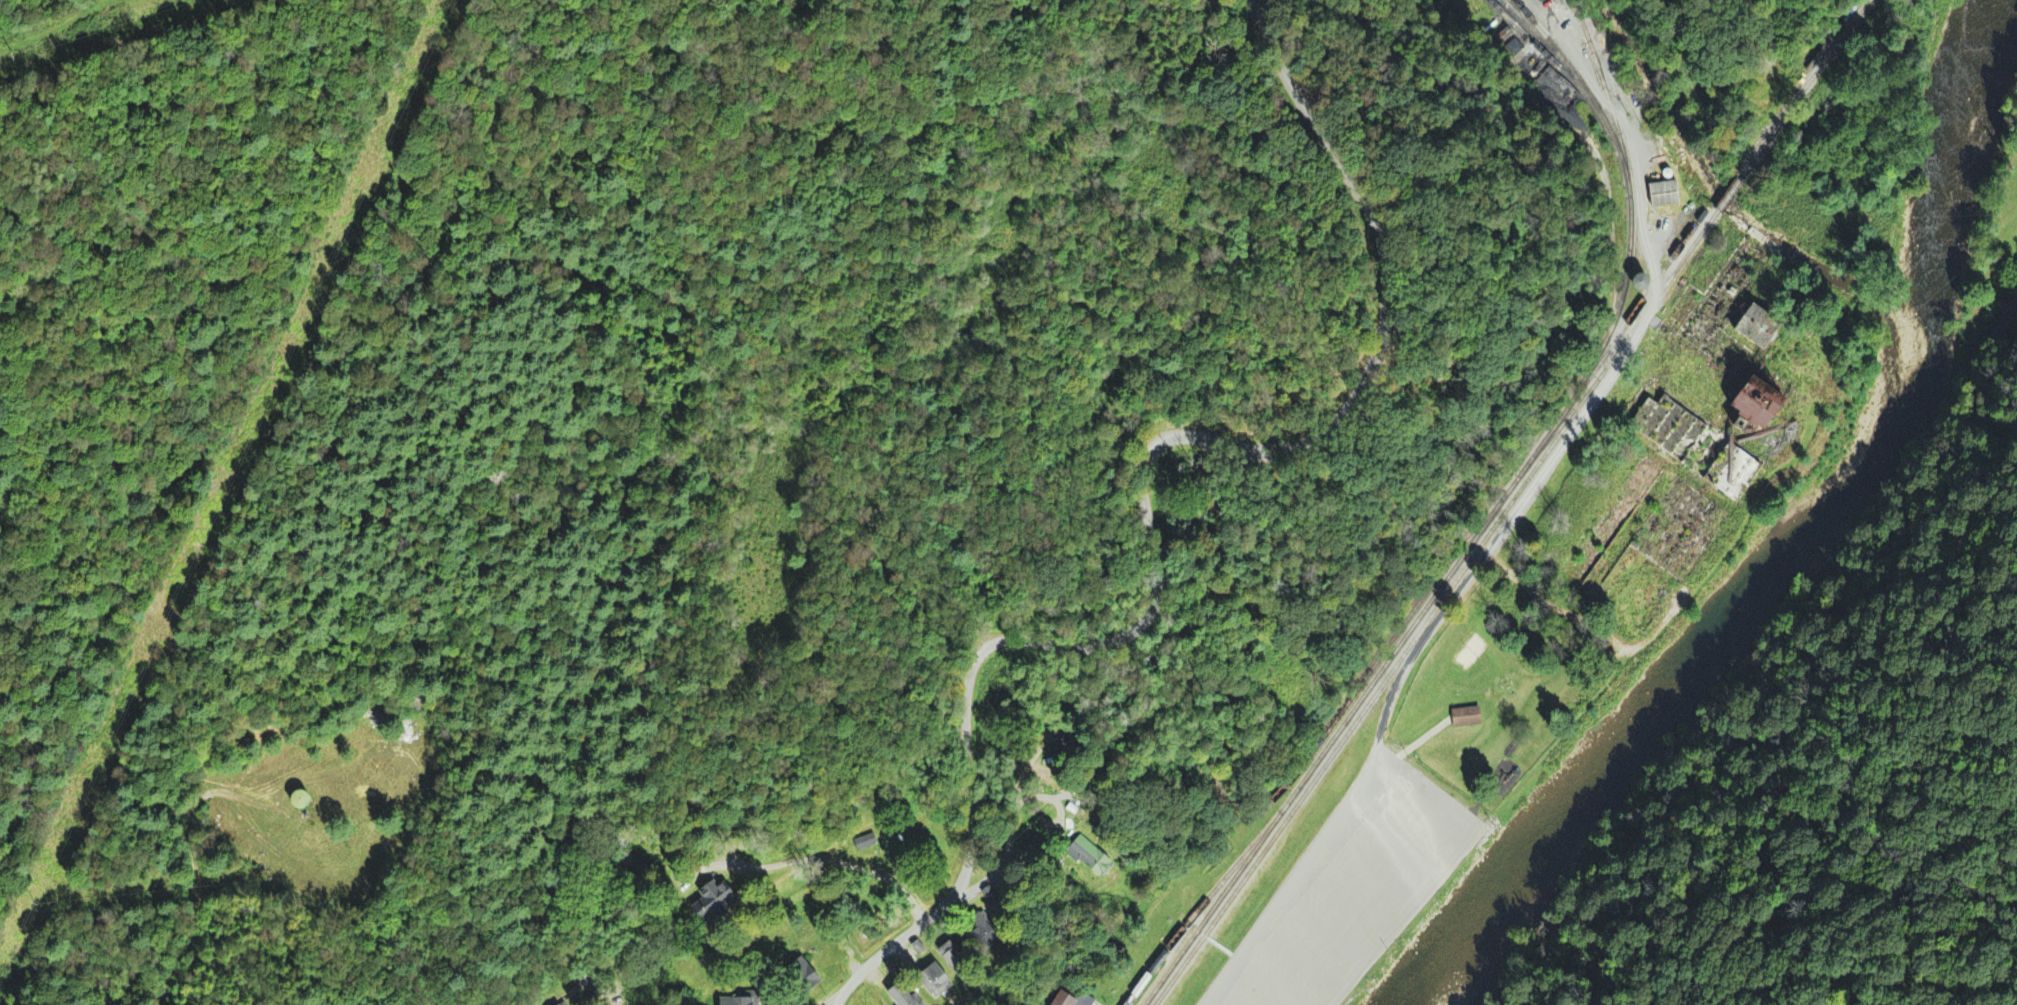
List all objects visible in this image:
railway: (1516, 8)
railway: (1583, 26)
railway: (1588, 53)
railway: (1549, 58)
railway: (1583, 86)
railway: (1805, 88)
railway: (1629, 175)
building: (1663, 193)
railway: (1729, 194)
railway: (1645, 296)
building: (1764, 328)
road: (2002, 388)
road: (1598, 392)
building: (1761, 403)
railway: (1550, 440)
building: (1700, 450)
road: (1140, 488)
river: (1799, 543)
park: (1103, 571)
railway: (1437, 607)
road: (1668, 620)
railway: (1368, 690)
road: (1735, 691)
building: (1468, 717)
railway: (1305, 761)
road: (1418, 799)
building: (303, 801)
road: (1393, 837)
building: (867, 840)
building: (1094, 856)
road: (817, 862)
road: (1369, 869)
road: (1291, 885)
parking lot: (1363, 892)
building: (994, 894)
road: (1347, 897)
building: (720, 898)
railway: (1193, 917)
road: (1394, 921)
railway: (1196, 923)
road: (1324, 928)
building: (989, 932)
building: (958, 955)
road: (1300, 959)
building: (942, 979)
road: (1269, 982)
road: (1128, 986)
building: (907, 995)
road: (1226, 998)
building: (1067, 999)
building: (739, 1000)
road: (833, 1002)
road: (836, 1002)

